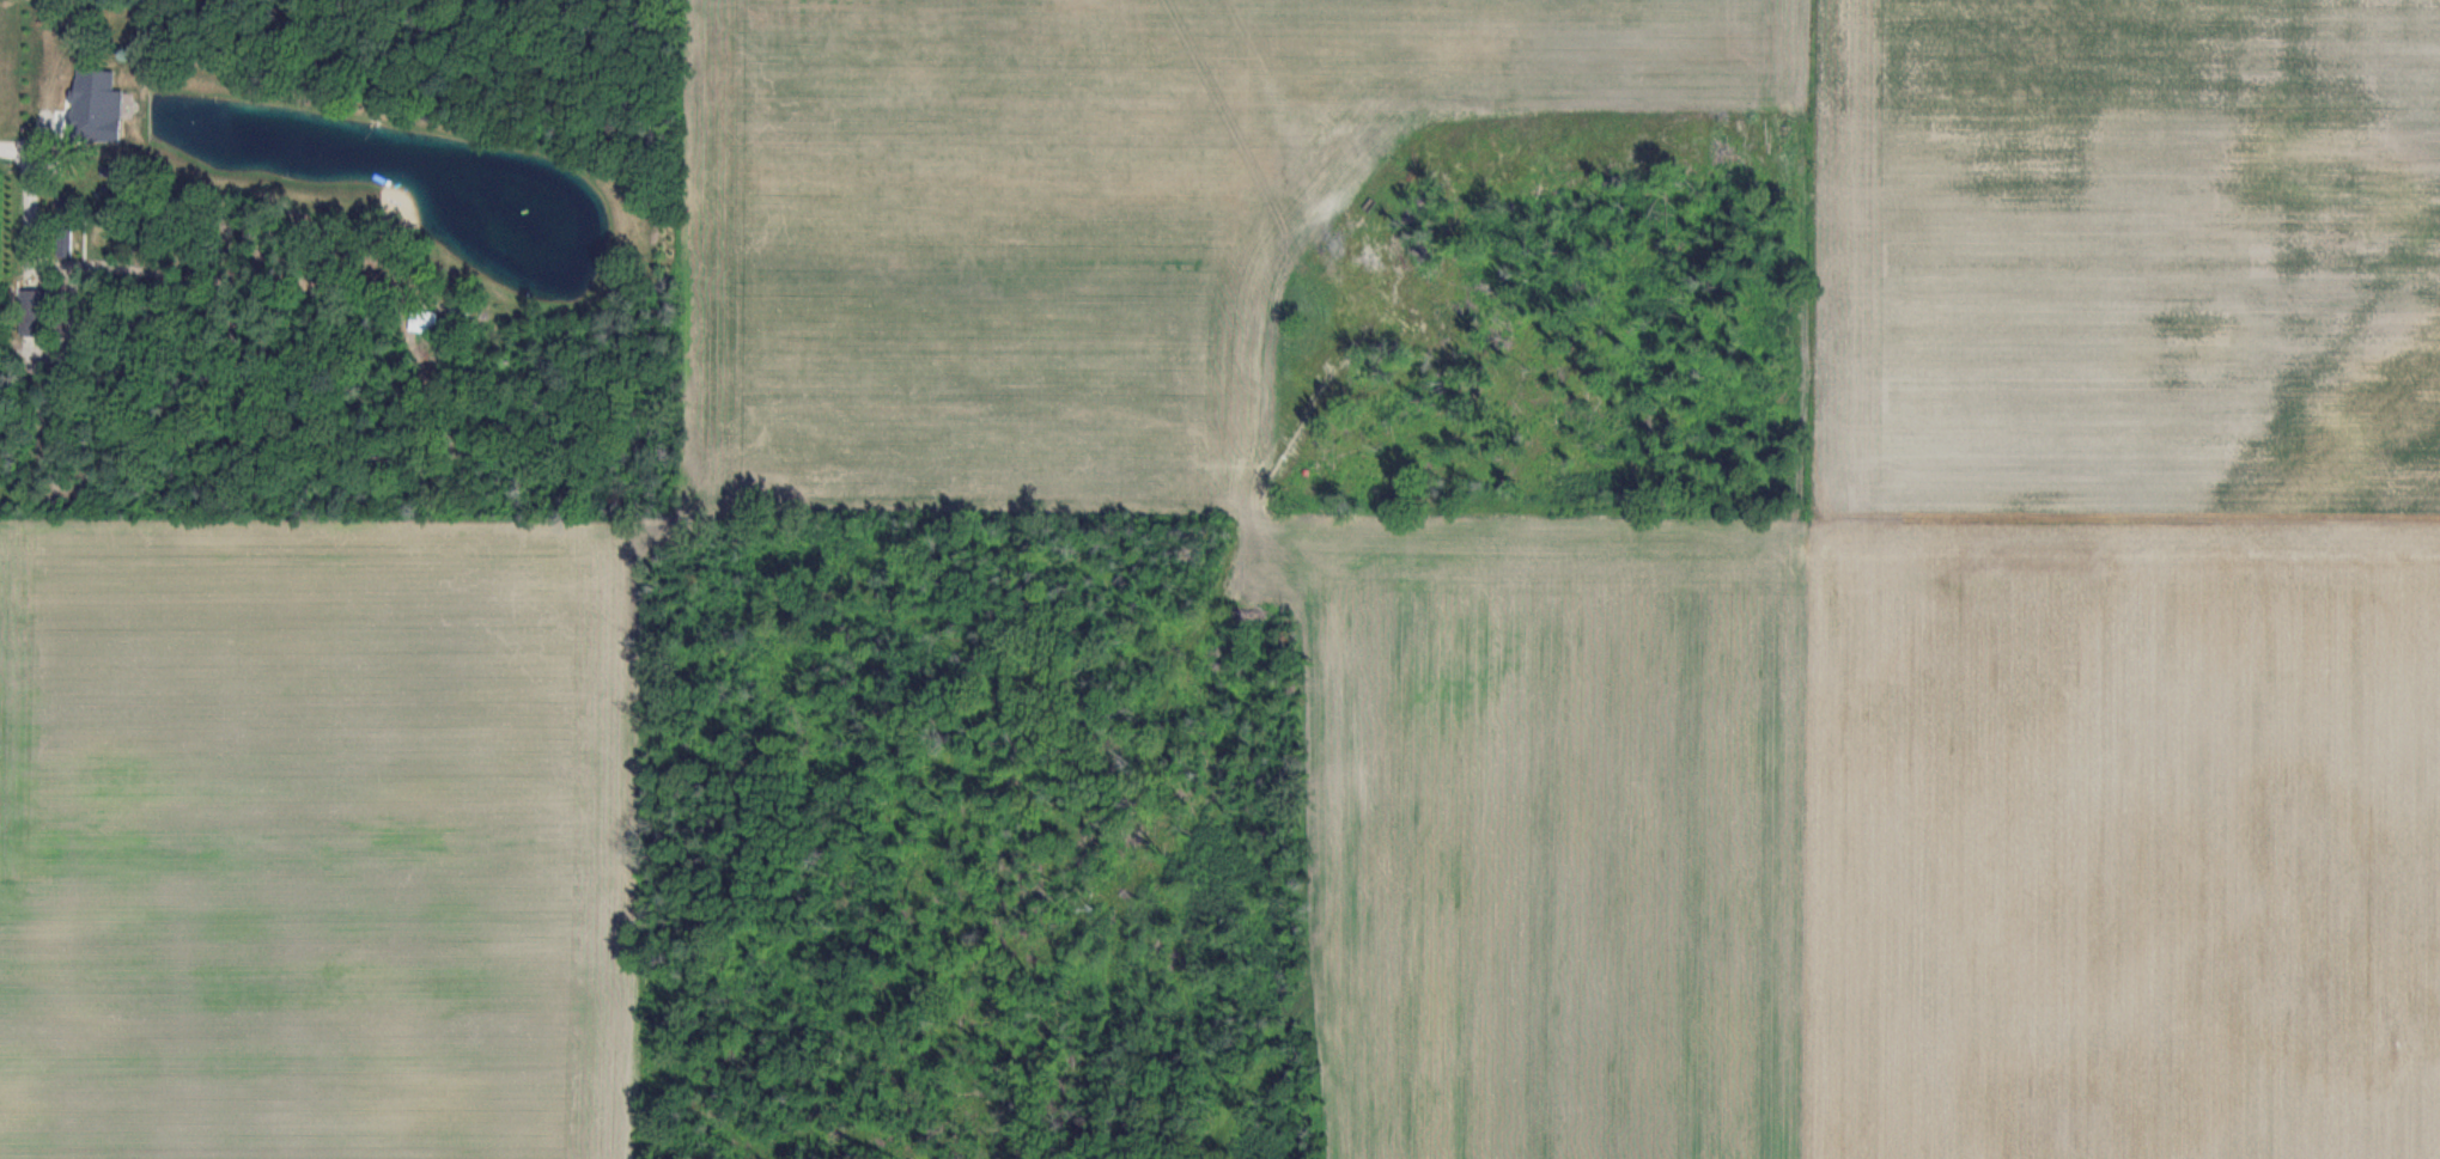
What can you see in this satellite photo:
road: (23, 197)

